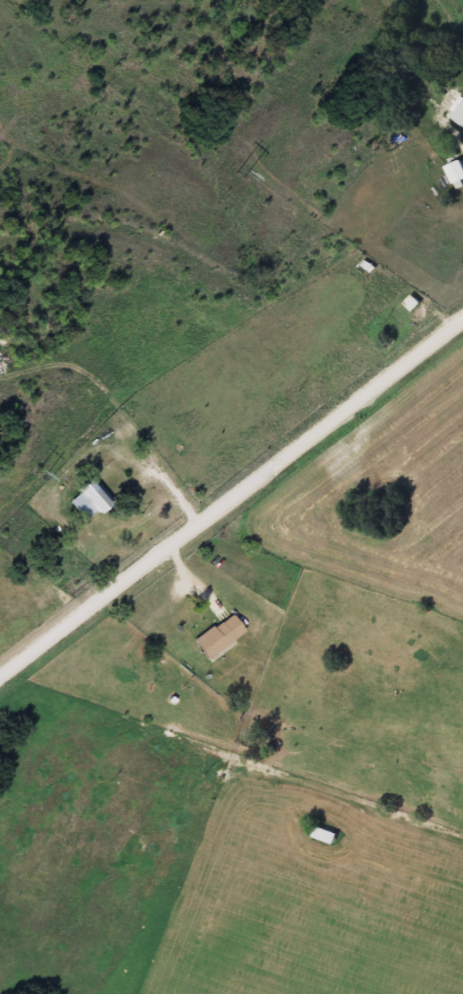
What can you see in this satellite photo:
building: (458, 114)
building: (453, 171)
power tower: (238, 174)
building: (401, 322)
power tower: (37, 473)
road: (231, 497)
building: (82, 498)
building: (214, 636)
building: (320, 832)

